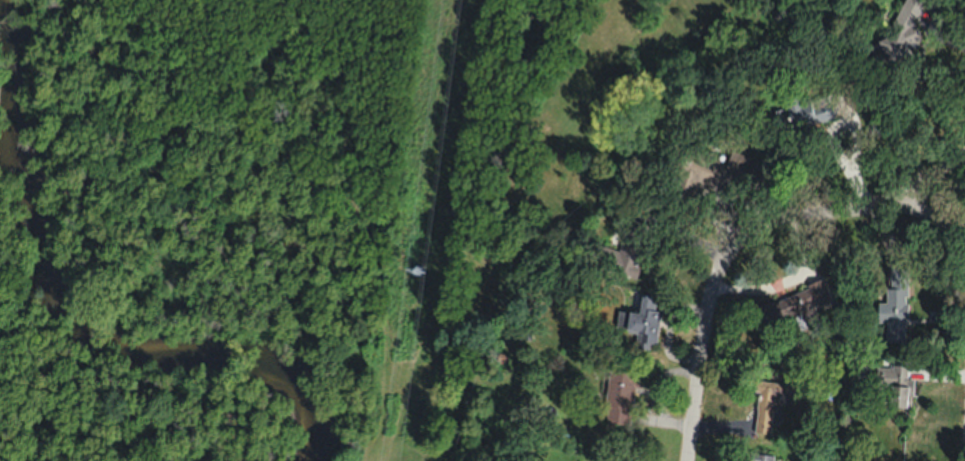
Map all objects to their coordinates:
building: (899, 33)
building: (803, 109)
building: (721, 172)
road: (924, 182)
park: (297, 207)
road: (743, 236)
building: (628, 252)
power tower: (420, 270)
building: (896, 301)
building: (796, 306)
river: (73, 308)
building: (642, 320)
building: (895, 383)
building: (621, 390)
building: (769, 402)
building: (759, 457)

